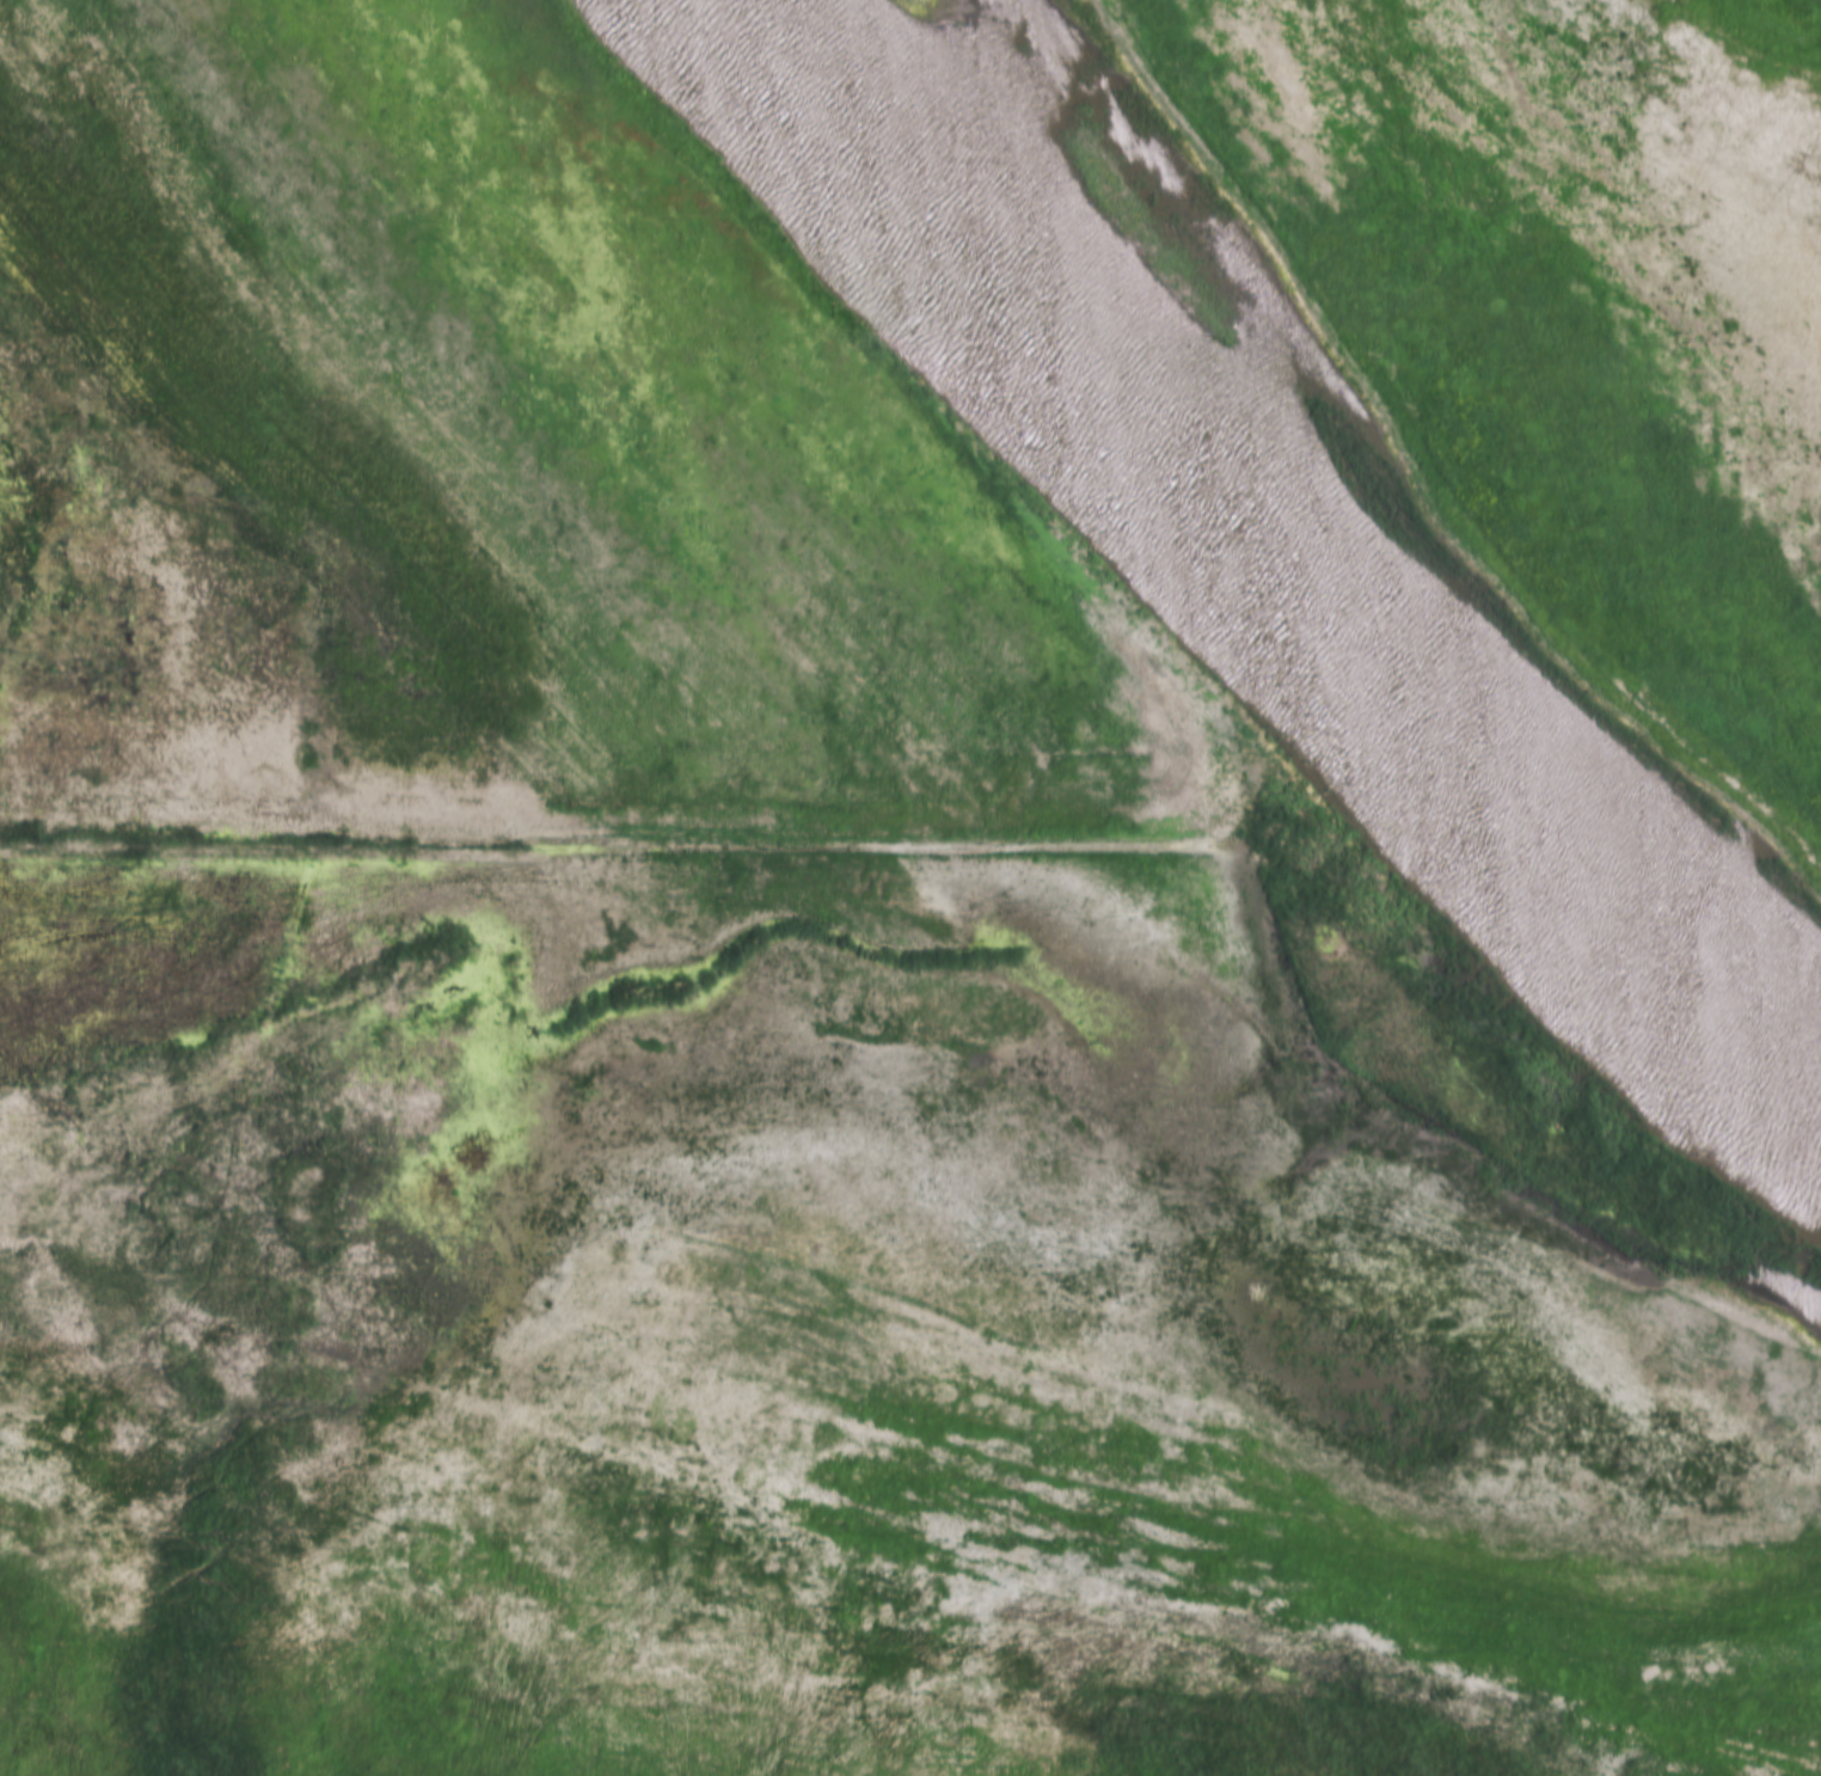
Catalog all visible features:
river: (1265, 558)

